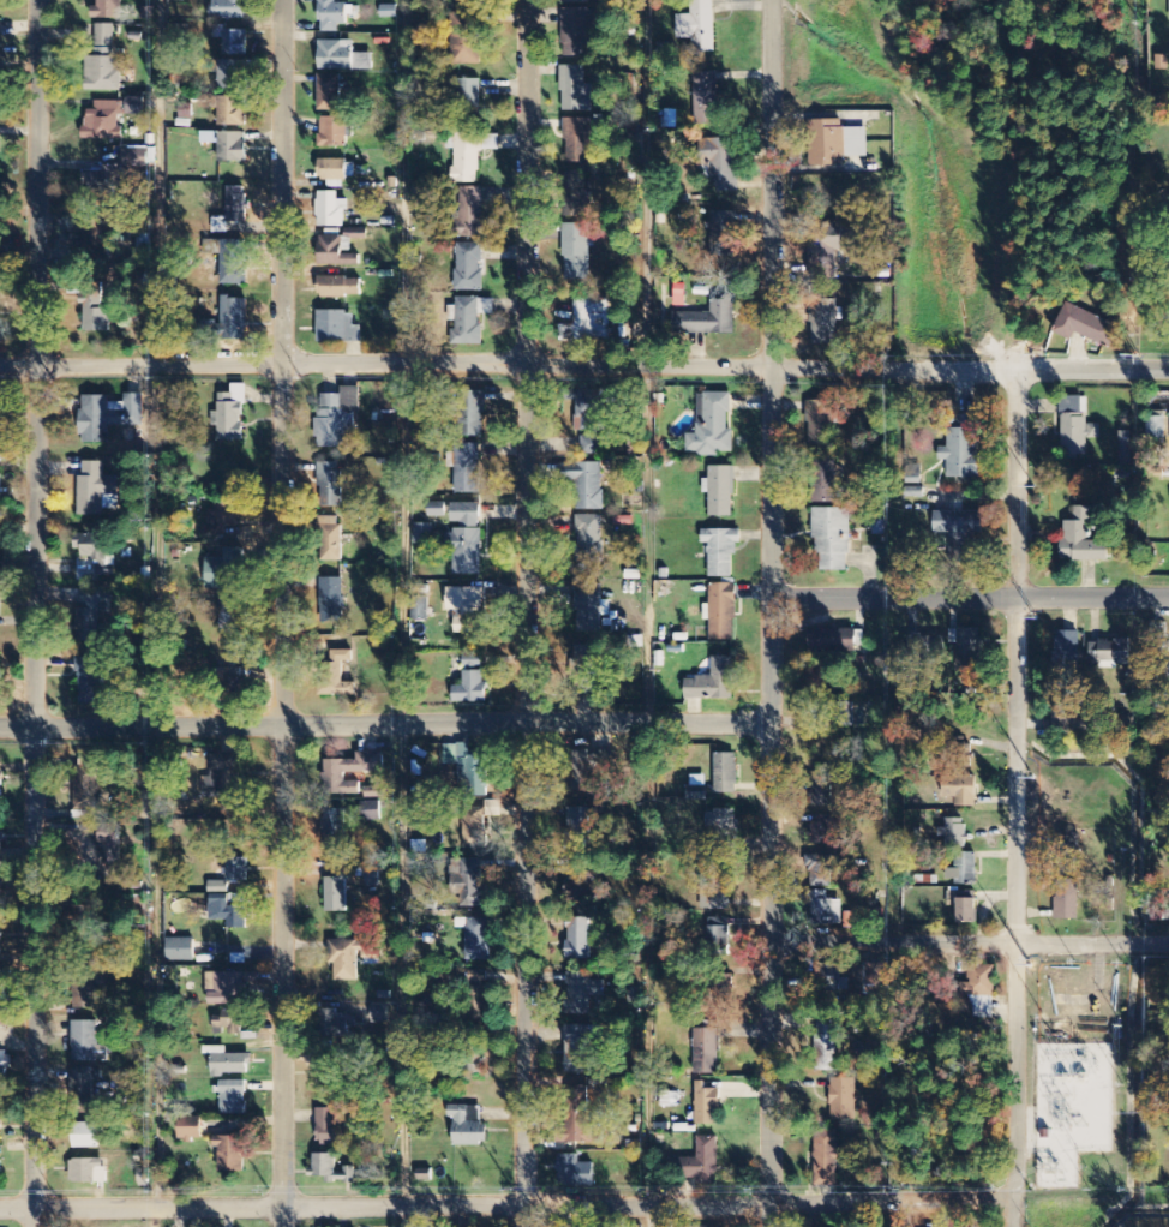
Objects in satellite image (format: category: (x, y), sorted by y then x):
building: (576, 1)
building: (228, 10)
building: (334, 16)
building: (699, 26)
building: (581, 34)
building: (466, 40)
building: (235, 43)
building: (342, 58)
building: (102, 64)
building: (230, 76)
building: (575, 90)
building: (329, 94)
building: (705, 98)
building: (468, 101)
building: (133, 107)
building: (232, 112)
building: (103, 122)
building: (334, 133)
building: (582, 140)
building: (835, 143)
building: (232, 148)
building: (470, 155)
building: (134, 158)
building: (720, 162)
building: (336, 169)
building: (97, 180)
building: (577, 196)
building: (238, 204)
building: (330, 210)
building: (469, 213)
building: (724, 233)
building: (95, 237)
building: (832, 243)
building: (576, 251)
building: (335, 253)
building: (230, 261)
building: (469, 268)
building: (338, 287)
building: (95, 311)
building: (234, 318)
building: (707, 318)
building: (470, 319)
building: (588, 322)
building: (825, 322)
building: (1084, 325)
building: (338, 328)
road: (583, 366)
building: (591, 409)
building: (0, 414)
building: (230, 414)
building: (472, 414)
building: (108, 417)
building: (337, 417)
building: (821, 424)
building: (1077, 426)
building: (712, 427)
building: (1157, 427)
building: (592, 445)
building: (1125, 445)
building: (963, 449)
building: (467, 468)
building: (825, 479)
building: (330, 484)
building: (587, 486)
building: (96, 490)
building: (720, 491)
building: (464, 514)
building: (222, 515)
building: (879, 527)
building: (959, 531)
building: (422, 534)
building: (588, 539)
building: (832, 539)
building: (1083, 540)
building: (91, 546)
building: (329, 546)
building: (464, 551)
building: (720, 552)
building: (223, 570)
road: (969, 594)
building: (0, 600)
building: (331, 600)
road: (158, 601)
building: (420, 607)
building: (591, 609)
building: (466, 610)
road: (35, 612)
road: (527, 612)
building: (721, 612)
road: (769, 612)
road: (282, 613)
road: (407, 613)
building: (232, 617)
building: (91, 618)
building: (1158, 632)
building: (833, 640)
building: (967, 648)
building: (1114, 653)
building: (1066, 660)
building: (584, 665)
building: (229, 672)
building: (336, 675)
building: (90, 681)
building: (470, 681)
building: (713, 682)
building: (844, 714)
road: (384, 724)
building: (588, 767)
building: (467, 771)
building: (352, 772)
building: (725, 773)
building: (222, 777)
building: (0, 779)
building: (86, 784)
building: (696, 788)
building: (821, 791)
building: (964, 791)
road: (1015, 796)
building: (370, 812)
building: (723, 824)
building: (473, 826)
building: (334, 828)
building: (577, 831)
building: (821, 831)
building: (954, 833)
building: (0, 837)
building: (110, 845)
building: (236, 870)
building: (963, 870)
building: (820, 872)
building: (368, 882)
building: (470, 885)
building: (217, 887)
building: (0, 890)
building: (577, 890)
building: (335, 897)
building: (720, 900)
building: (1067, 900)
building: (825, 910)
building: (966, 911)
building: (229, 915)
building: (84, 918)
building: (577, 939)
building: (478, 940)
building: (718, 940)
road: (969, 946)
building: (180, 951)
building: (352, 958)
building: (832, 982)
building: (720, 987)
building: (227, 988)
building: (85, 989)
building: (581, 993)
building: (982, 993)
building: (474, 1005)
building: (379, 1014)
building: (230, 1023)
building: (335, 1024)
building: (88, 1043)
building: (828, 1046)
building: (581, 1049)
building: (707, 1052)
building: (2, 1064)
building: (229, 1064)
building: (82, 1088)
building: (233, 1099)
building: (843, 1100)
building: (707, 1108)
building: (468, 1126)
building: (330, 1129)
building: (191, 1130)
building: (85, 1136)
building: (0, 1141)
building: (229, 1154)
building: (828, 1157)
building: (706, 1160)
building: (329, 1169)
building: (0, 1172)
building: (88, 1172)
building: (574, 1173)
road: (506, 1202)
building: (977, 1223)

